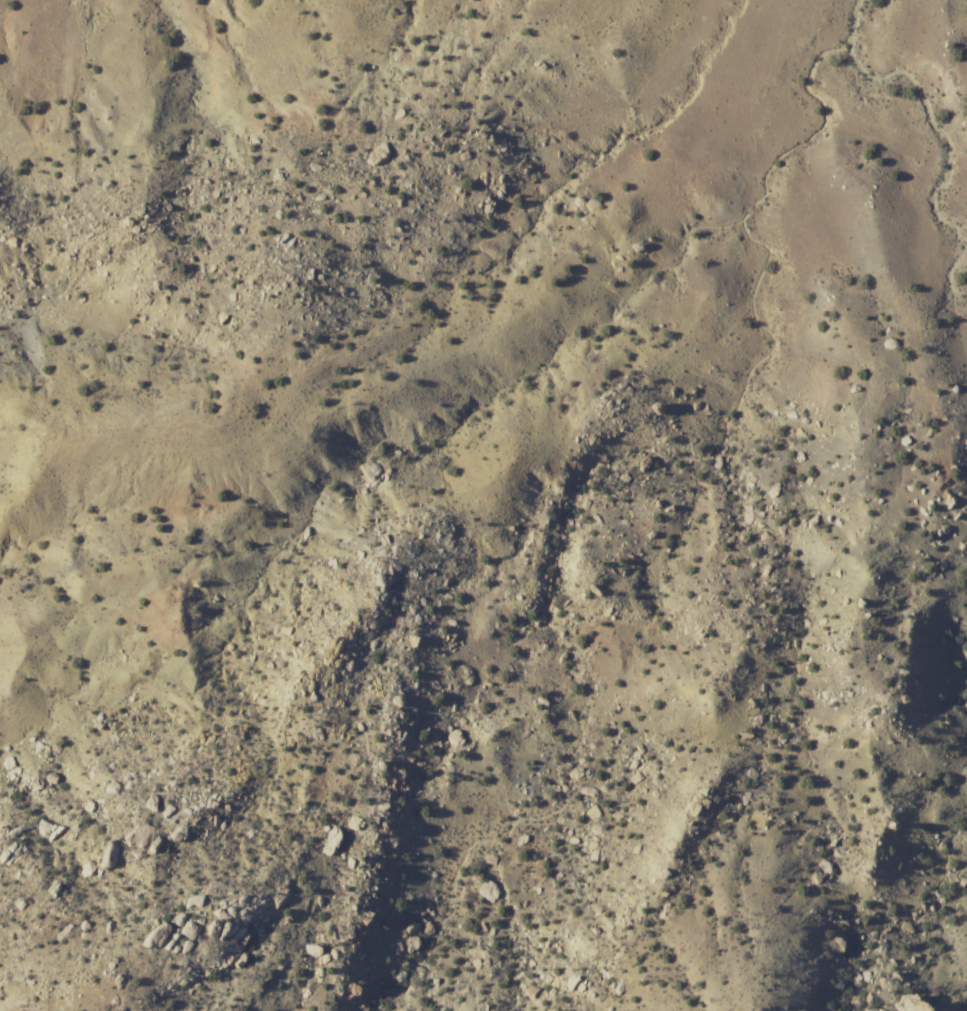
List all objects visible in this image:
building: (486, 887)

